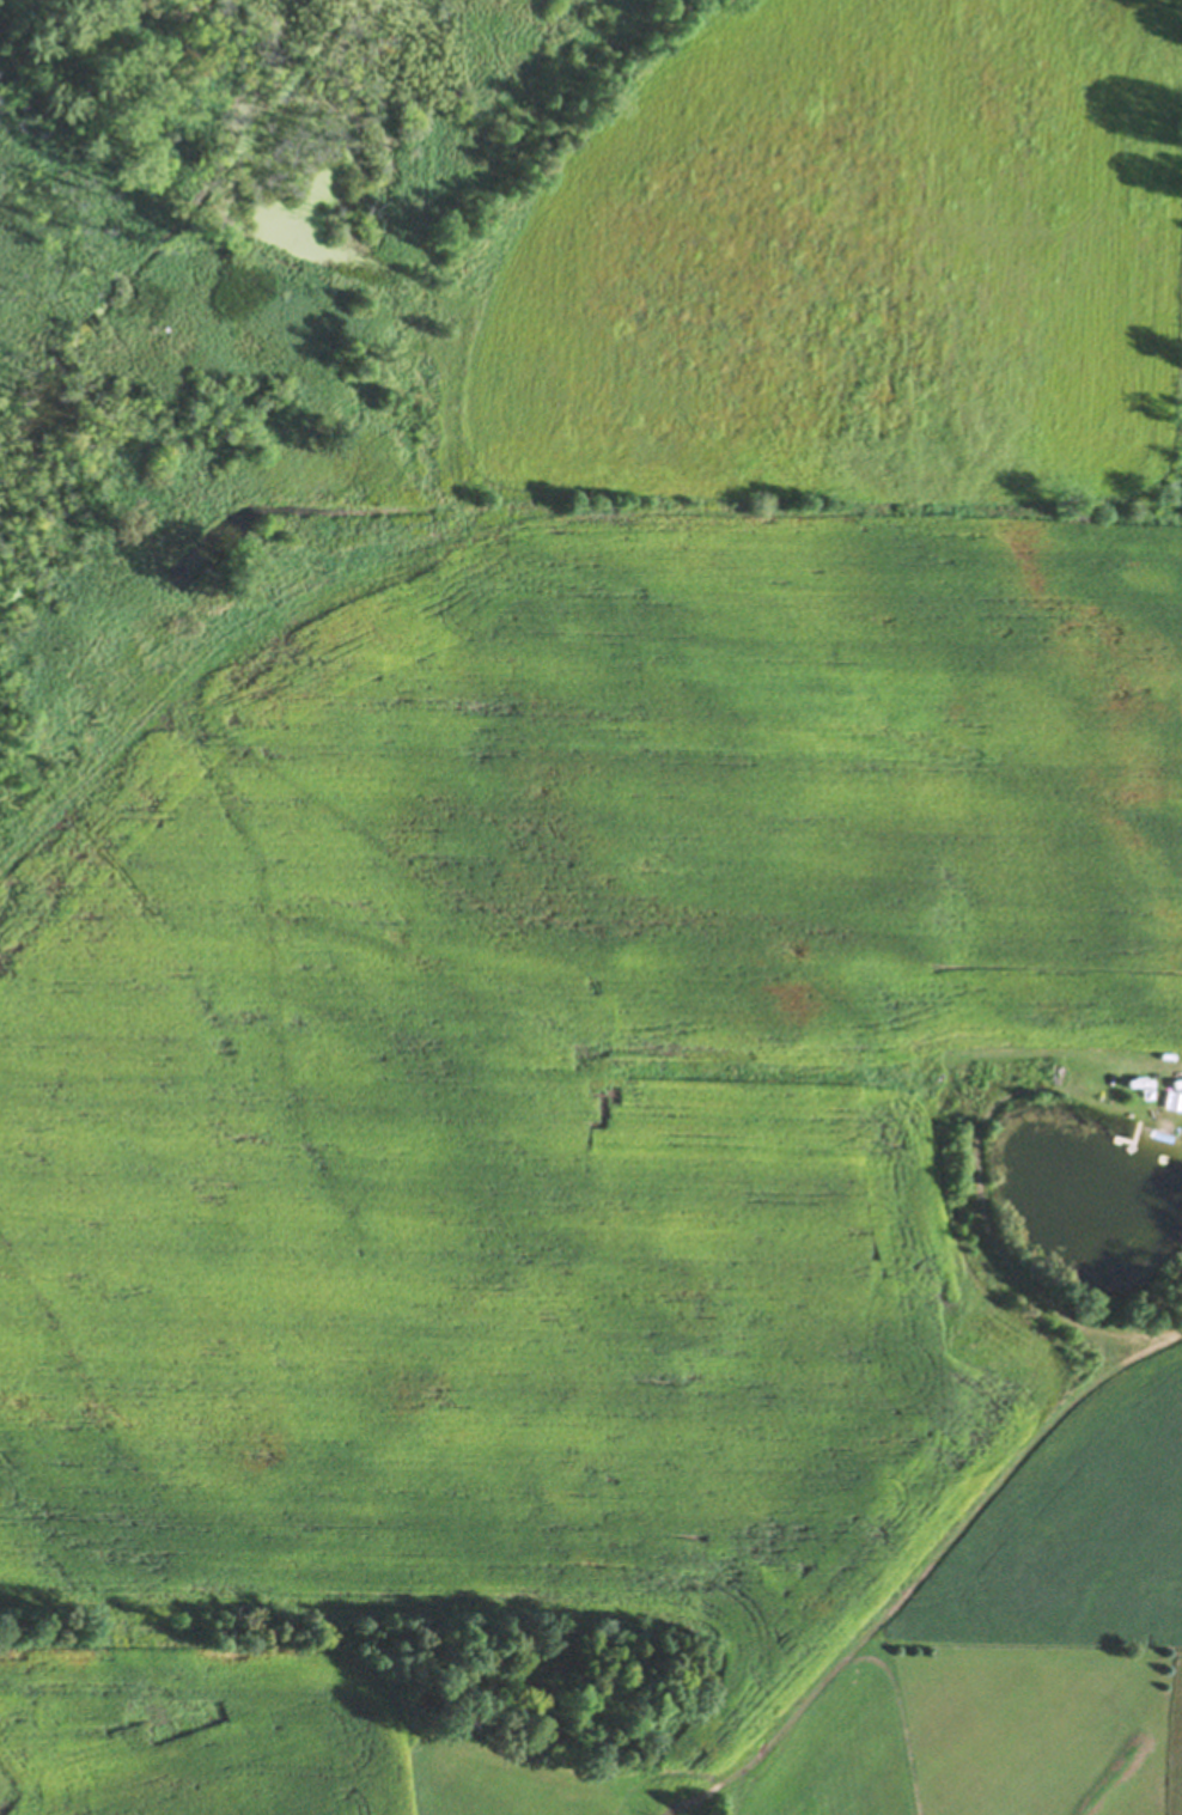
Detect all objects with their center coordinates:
road: (1181, 1064)

